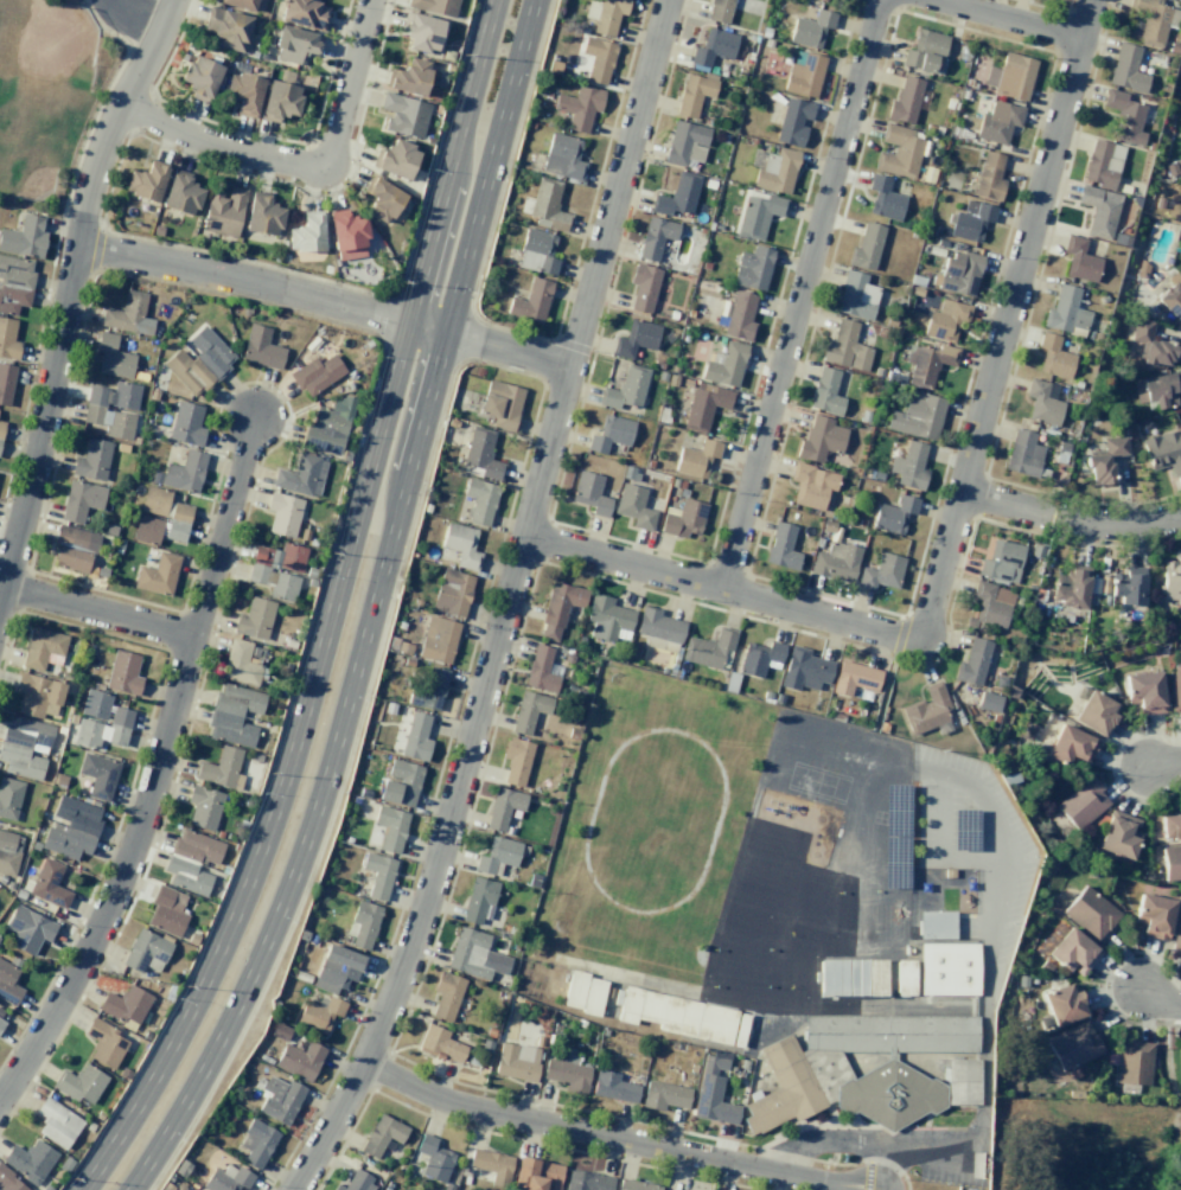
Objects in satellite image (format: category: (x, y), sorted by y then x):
building: (823, 0)
building: (238, 4)
building: (434, 6)
building: (719, 9)
building: (304, 13)
building: (605, 14)
road: (1007, 19)
building: (1154, 20)
road: (130, 21)
building: (226, 27)
building: (811, 28)
building: (421, 32)
building: (293, 44)
building: (713, 46)
building: (924, 50)
building: (598, 59)
building: (1126, 69)
building: (804, 73)
building: (200, 76)
building: (1010, 76)
building: (409, 77)
building: (243, 92)
building: (692, 94)
building: (279, 101)
building: (905, 101)
building: (579, 107)
building: (403, 115)
building: (1124, 116)
building: (792, 121)
building: (997, 122)
building: (685, 143)
building: (898, 152)
building: (562, 156)
building: (395, 159)
building: (1102, 164)
road: (302, 166)
building: (775, 171)
building: (989, 177)
building: (145, 181)
building: (181, 194)
building: (677, 194)
building: (885, 198)
building: (382, 199)
building: (545, 205)
building: (1099, 210)
building: (223, 211)
building: (262, 215)
building: (757, 215)
building: (971, 220)
building: (306, 232)
building: (346, 235)
building: (24, 237)
building: (655, 237)
building: (866, 247)
building: (536, 251)
building: (1079, 260)
building: (752, 268)
building: (958, 273)
building: (14, 283)
building: (643, 286)
road: (69, 289)
road: (803, 294)
building: (855, 295)
building: (1172, 296)
road: (325, 301)
building: (530, 301)
building: (1065, 312)
building: (128, 314)
building: (740, 315)
building: (945, 320)
road: (1007, 321)
building: (7, 339)
building: (634, 339)
building: (1151, 345)
building: (845, 346)
building: (260, 347)
building: (1053, 357)
building: (111, 358)
building: (199, 362)
building: (927, 362)
building: (724, 364)
building: (317, 373)
building: (6, 383)
building: (626, 388)
building: (1156, 389)
building: (825, 391)
building: (500, 403)
building: (1041, 403)
building: (704, 405)
building: (101, 412)
building: (917, 416)
building: (186, 423)
building: (328, 424)
building: (1, 428)
building: (609, 434)
building: (819, 439)
building: (1163, 452)
building: (481, 454)
building: (1023, 454)
building: (696, 458)
building: (91, 460)
building: (1105, 461)
building: (909, 466)
building: (184, 472)
building: (301, 475)
building: (811, 485)
building: (590, 493)
building: (79, 500)
building: (479, 500)
road: (1003, 500)
building: (633, 506)
building: (282, 513)
building: (894, 514)
building: (684, 519)
road: (1129, 525)
building: (146, 530)
building: (76, 537)
building: (460, 545)
building: (781, 546)
building: (71, 558)
building: (1001, 561)
building: (835, 562)
building: (276, 569)
building: (881, 571)
building: (157, 574)
building: (1172, 581)
building: (1128, 586)
road: (721, 588)
building: (1070, 588)
building: (452, 591)
road: (507, 603)
building: (991, 603)
building: (558, 607)
road: (370, 609)
road: (331, 612)
road: (96, 615)
building: (254, 619)
building: (607, 619)
building: (658, 626)
building: (438, 639)
building: (43, 648)
building: (708, 648)
building: (760, 658)
building: (972, 661)
building: (238, 663)
building: (540, 670)
building: (804, 670)
building: (122, 672)
building: (854, 678)
building: (429, 687)
building: (1144, 691)
building: (1175, 691)
building: (37, 696)
building: (987, 699)
building: (95, 704)
building: (926, 709)
building: (528, 710)
building: (1094, 712)
building: (234, 714)
building: (103, 729)
building: (415, 736)
building: (1070, 746)
building: (24, 747)
building: (516, 760)
road: (1163, 767)
building: (221, 768)
road: (158, 770)
building: (98, 775)
building: (400, 783)
building: (9, 798)
building: (1081, 802)
building: (203, 807)
building: (503, 807)
building: (1170, 826)
building: (70, 827)
building: (390, 828)
road: (940, 834)
building: (1119, 834)
building: (197, 846)
building: (8, 851)
building: (497, 856)
building: (1172, 862)
building: (185, 875)
building: (378, 875)
building: (49, 884)
building: (479, 900)
building: (166, 910)
building: (1090, 913)
building: (1154, 915)
building: (363, 923)
building: (936, 925)
building: (27, 929)
building: (1176, 932)
building: (146, 951)
building: (1073, 952)
building: (474, 954)
building: (337, 968)
building: (947, 968)
building: (842, 977)
building: (876, 977)
building: (905, 977)
building: (8, 983)
building: (574, 989)
building: (446, 994)
road: (1160, 994)
building: (592, 997)
road: (984, 1000)
building: (125, 1004)
building: (1062, 1004)
building: (677, 1012)
building: (319, 1015)
building: (1, 1022)
building: (889, 1032)
building: (104, 1043)
building: (440, 1044)
building: (1073, 1045)
building: (299, 1060)
building: (1180, 1060)
building: (516, 1061)
building: (1134, 1062)
building: (566, 1071)
building: (962, 1081)
building: (79, 1083)
building: (612, 1087)
building: (783, 1088)
building: (713, 1092)
building: (888, 1094)
building: (664, 1095)
building: (279, 1100)
building: (56, 1122)
building: (382, 1134)
road: (615, 1137)
road: (856, 1143)
building: (256, 1144)
building: (433, 1158)
building: (30, 1160)
building: (491, 1165)
building: (536, 1175)
building: (226, 1178)
building: (587, 1181)
building: (9, 1182)
building: (357, 1182)
building: (634, 1185)

